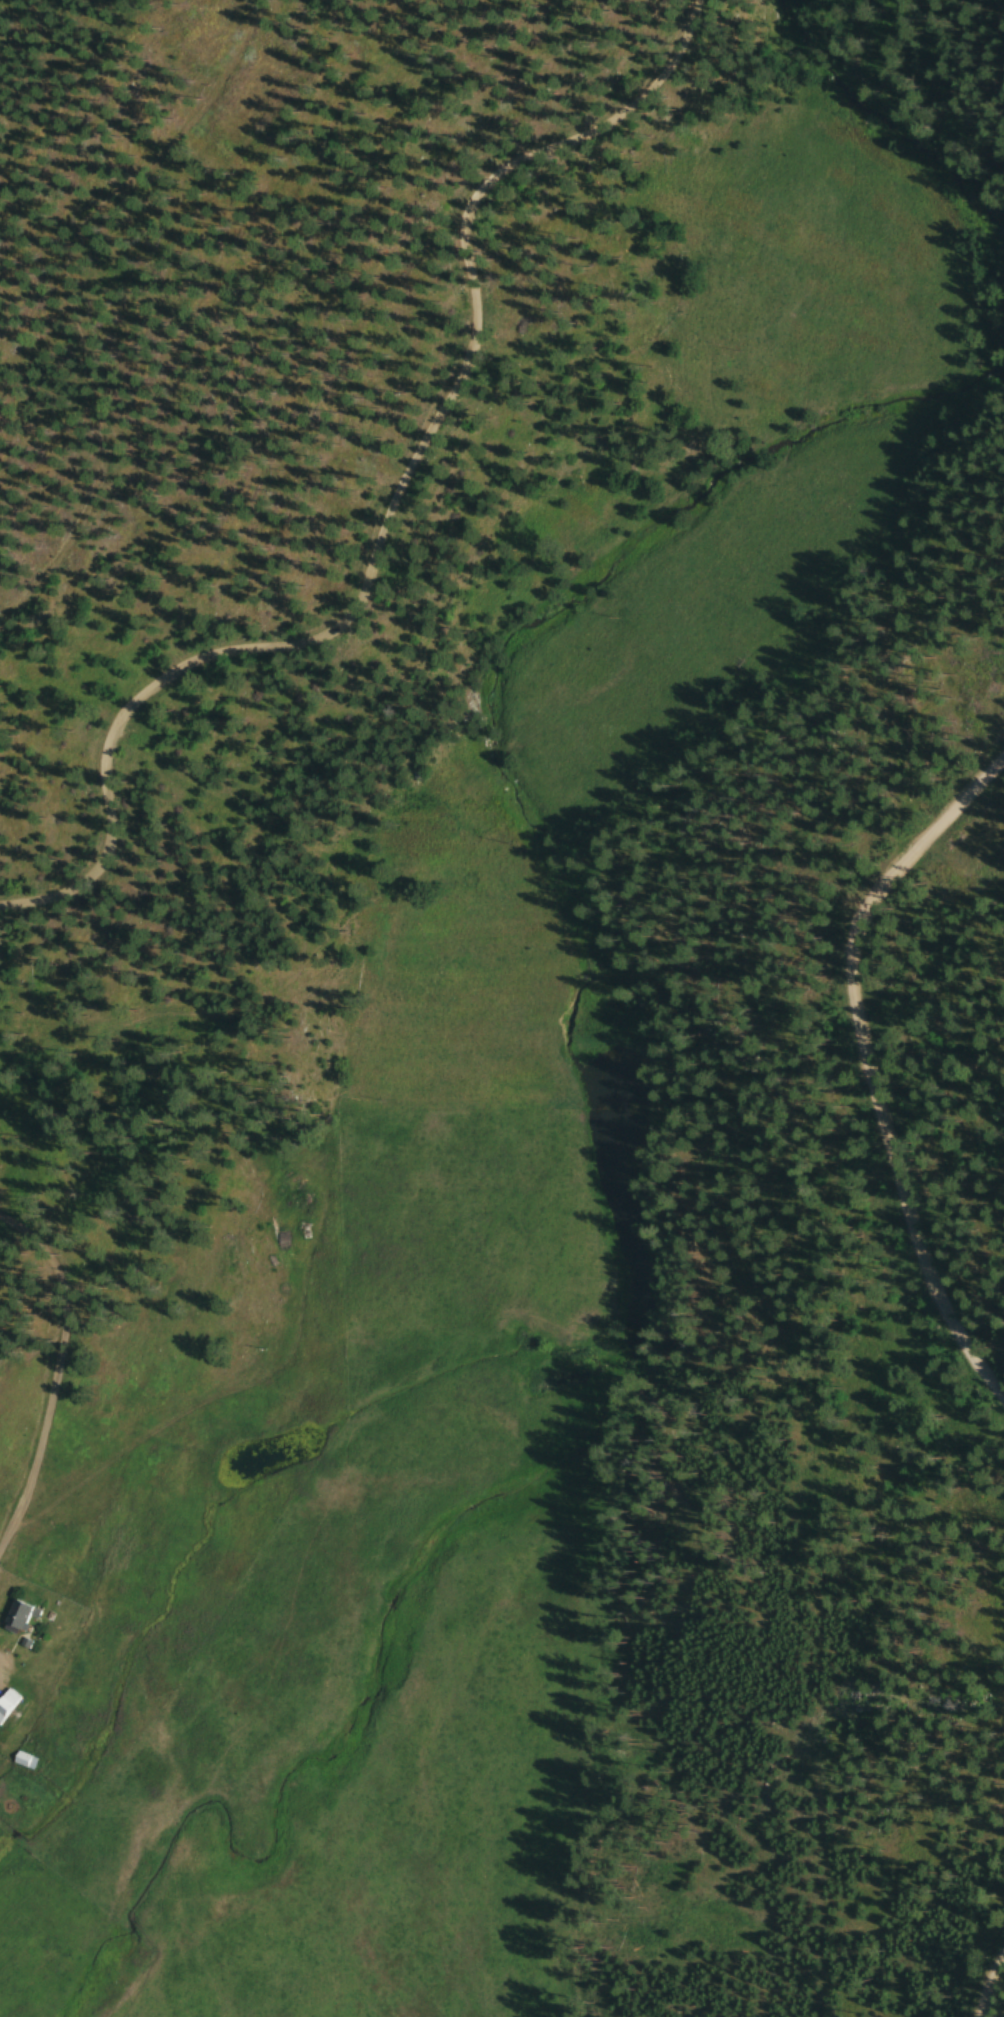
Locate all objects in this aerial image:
road: (387, 511)
road: (869, 1069)
road: (62, 1384)
building: (17, 1624)
building: (30, 1626)
building: (8, 1712)
building: (24, 1768)
road: (991, 1985)

